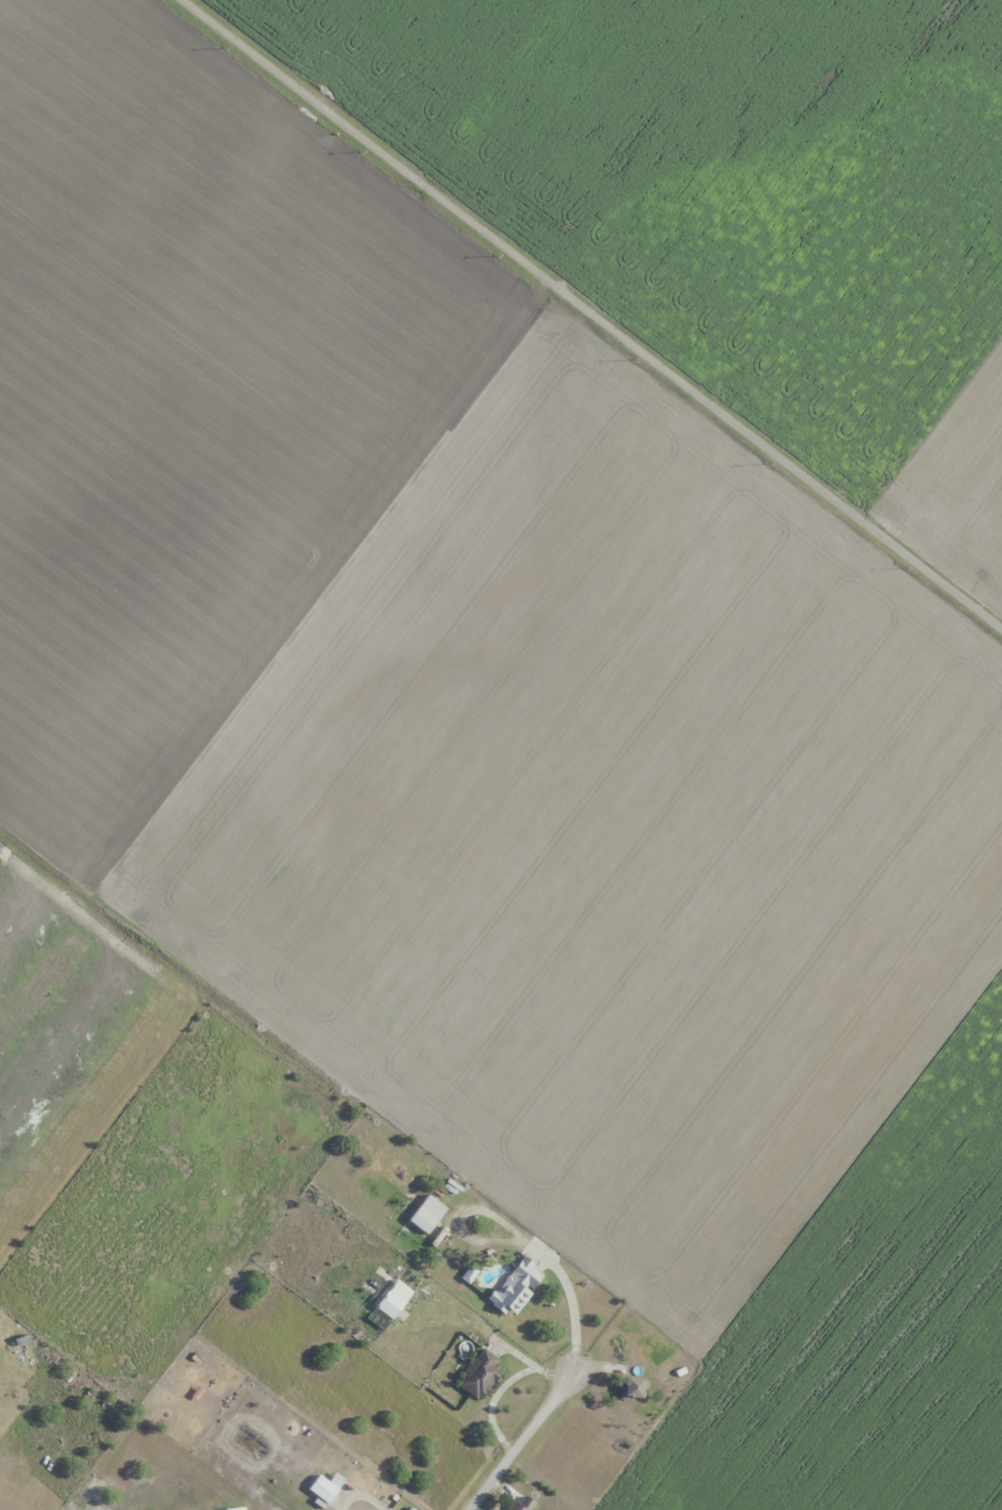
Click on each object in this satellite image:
road: (587, 315)
building: (430, 1217)
building: (516, 1287)
building: (395, 1301)
road: (571, 1304)
building: (480, 1374)
building: (632, 1388)
road: (500, 1389)
building: (204, 1400)
road: (524, 1438)
building: (327, 1491)
building: (521, 1503)

